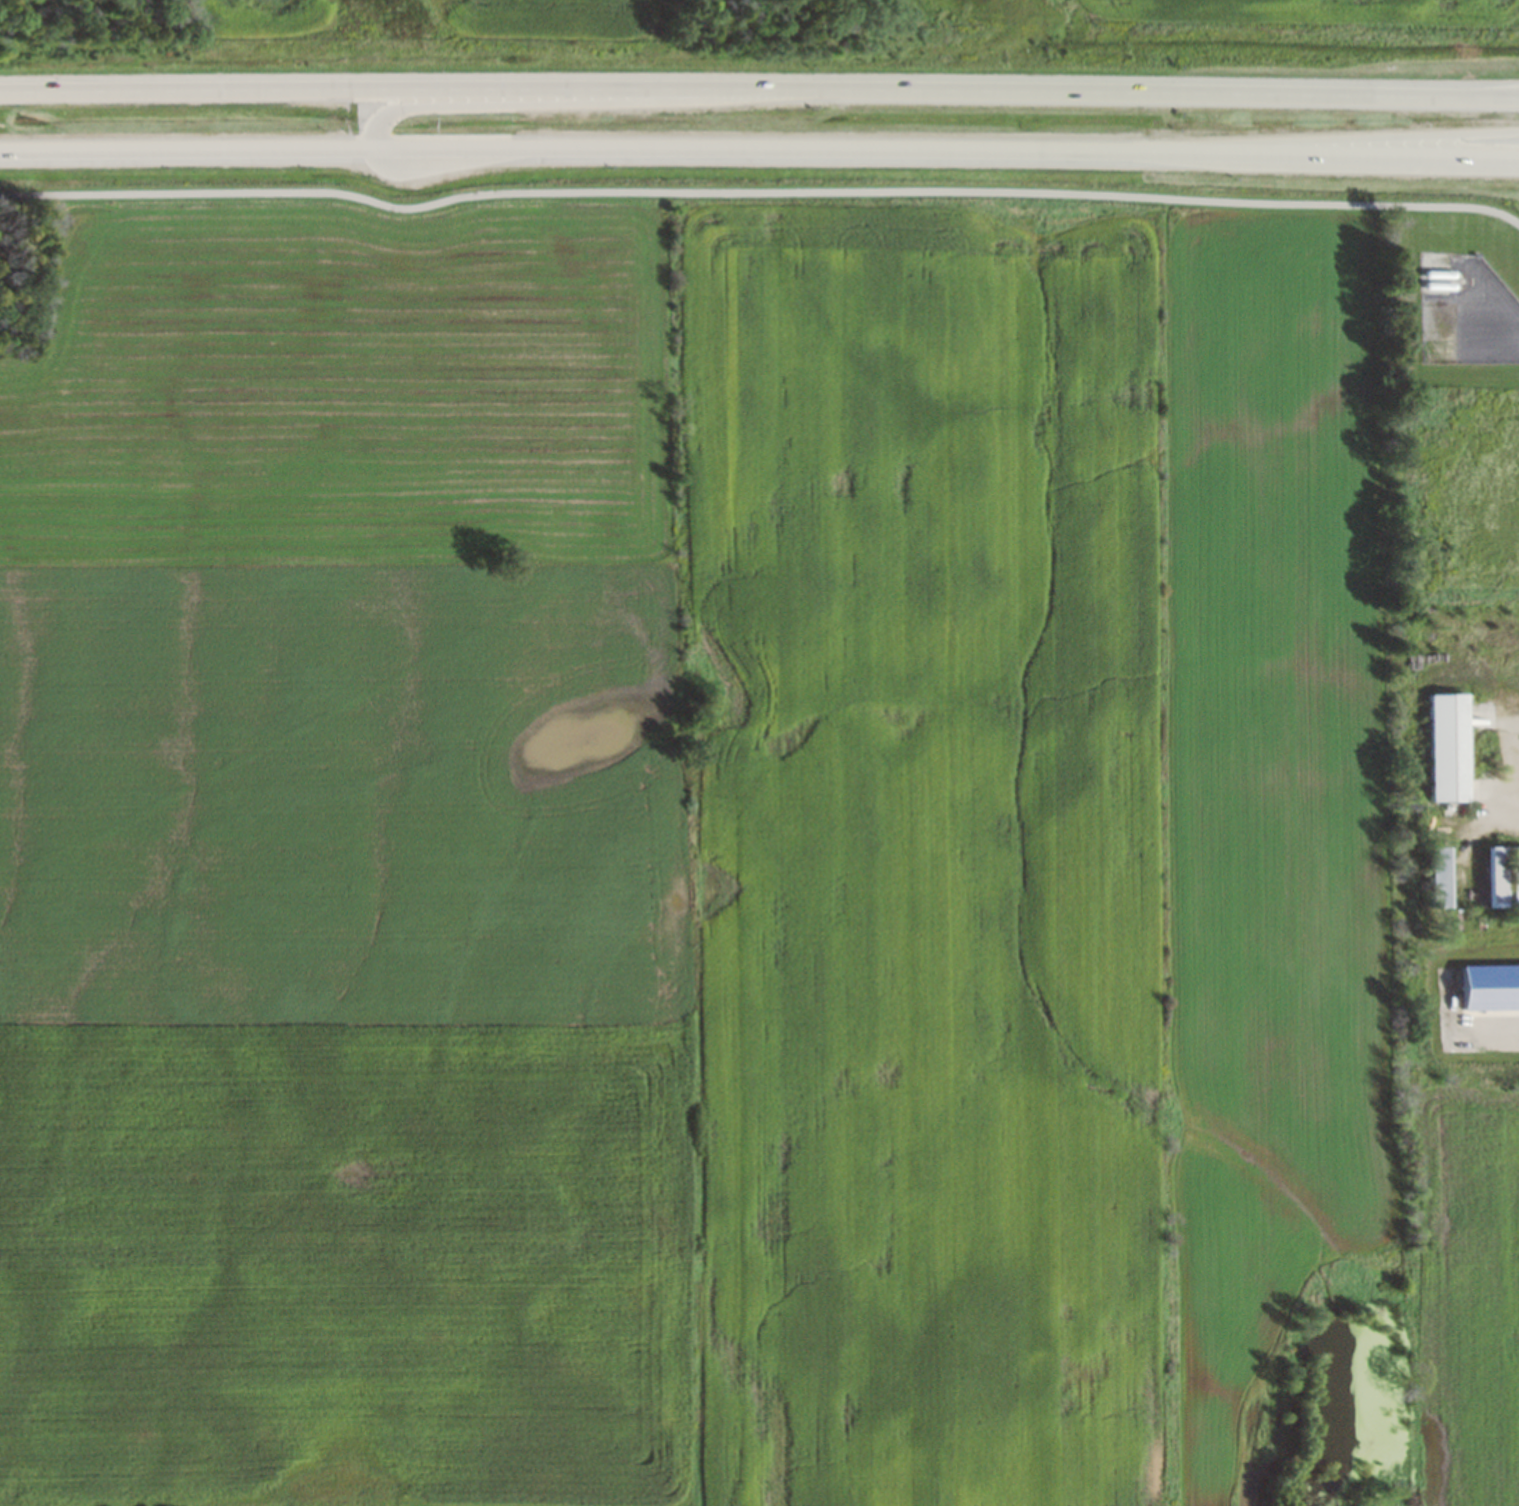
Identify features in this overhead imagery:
road: (759, 89)
road: (575, 98)
road: (1319, 138)
road: (759, 148)
road: (760, 192)
building: (1451, 747)
building: (1516, 876)
building: (1443, 877)
building: (1499, 877)

